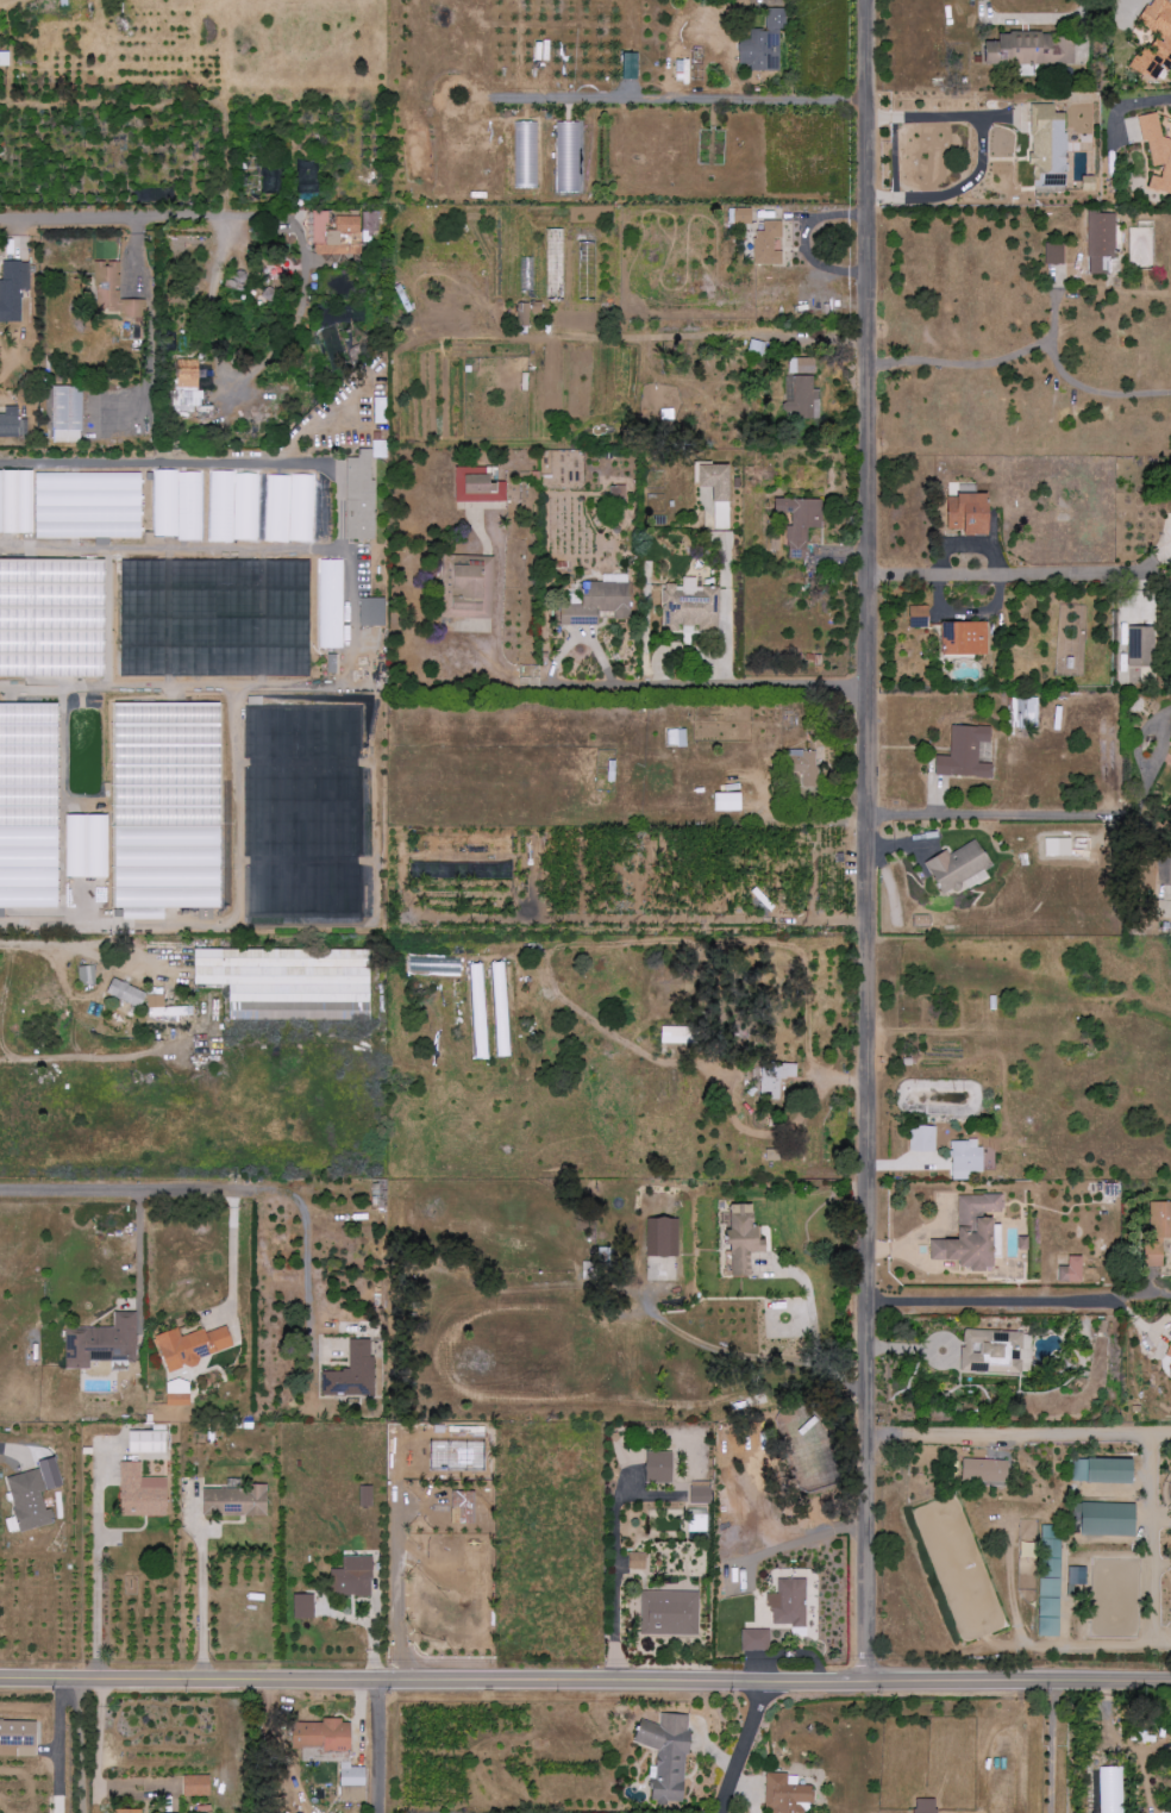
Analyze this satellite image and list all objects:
road: (1032, 18)
building: (1031, 49)
building: (4, 58)
road: (682, 100)
road: (1125, 105)
road: (982, 149)
building: (1157, 151)
building: (564, 158)
building: (306, 177)
building: (252, 183)
road: (148, 215)
building: (740, 217)
building: (12, 289)
building: (268, 294)
building: (118, 301)
building: (522, 314)
road: (1050, 326)
building: (333, 346)
road: (1031, 346)
building: (187, 386)
building: (378, 411)
building: (12, 424)
road: (168, 465)
building: (476, 486)
building: (361, 492)
building: (15, 501)
building: (177, 505)
building: (87, 506)
building: (233, 506)
building: (288, 508)
road: (244, 548)
road: (1006, 574)
building: (463, 586)
building: (595, 604)
building: (330, 605)
building: (364, 612)
road: (494, 630)
building: (1140, 648)
building: (0, 663)
building: (330, 664)
road: (715, 688)
road: (171, 690)
building: (965, 754)
building: (29, 806)
building: (167, 807)
road: (1004, 813)
road: (872, 842)
building: (84, 845)
building: (959, 864)
road: (69, 948)
building: (86, 975)
building: (290, 981)
building: (126, 993)
building: (476, 1002)
building: (164, 1008)
building: (499, 1009)
road: (121, 1056)
road: (232, 1190)
building: (976, 1231)
building: (745, 1238)
road: (139, 1264)
road: (236, 1264)
road: (992, 1302)
road: (810, 1312)
building: (101, 1343)
building: (192, 1345)
building: (1169, 1352)
road: (753, 1361)
building: (352, 1373)
building: (1170, 1373)
building: (177, 1393)
road: (1021, 1436)
building: (146, 1442)
road: (15, 1452)
building: (1103, 1470)
building: (140, 1493)
building: (33, 1494)
building: (365, 1495)
building: (236, 1501)
building: (1108, 1519)
building: (352, 1577)
road: (613, 1588)
road: (401, 1590)
building: (789, 1603)
building: (303, 1607)
road: (203, 1608)
road: (99, 1611)
road: (584, 1683)
building: (323, 1736)
building: (18, 1739)
road: (56, 1746)
road: (81, 1746)
road: (380, 1748)
road: (1051, 1749)
road: (744, 1750)
building: (668, 1755)
building: (352, 1775)
building: (196, 1786)
building: (785, 1795)
building: (127, 1811)

